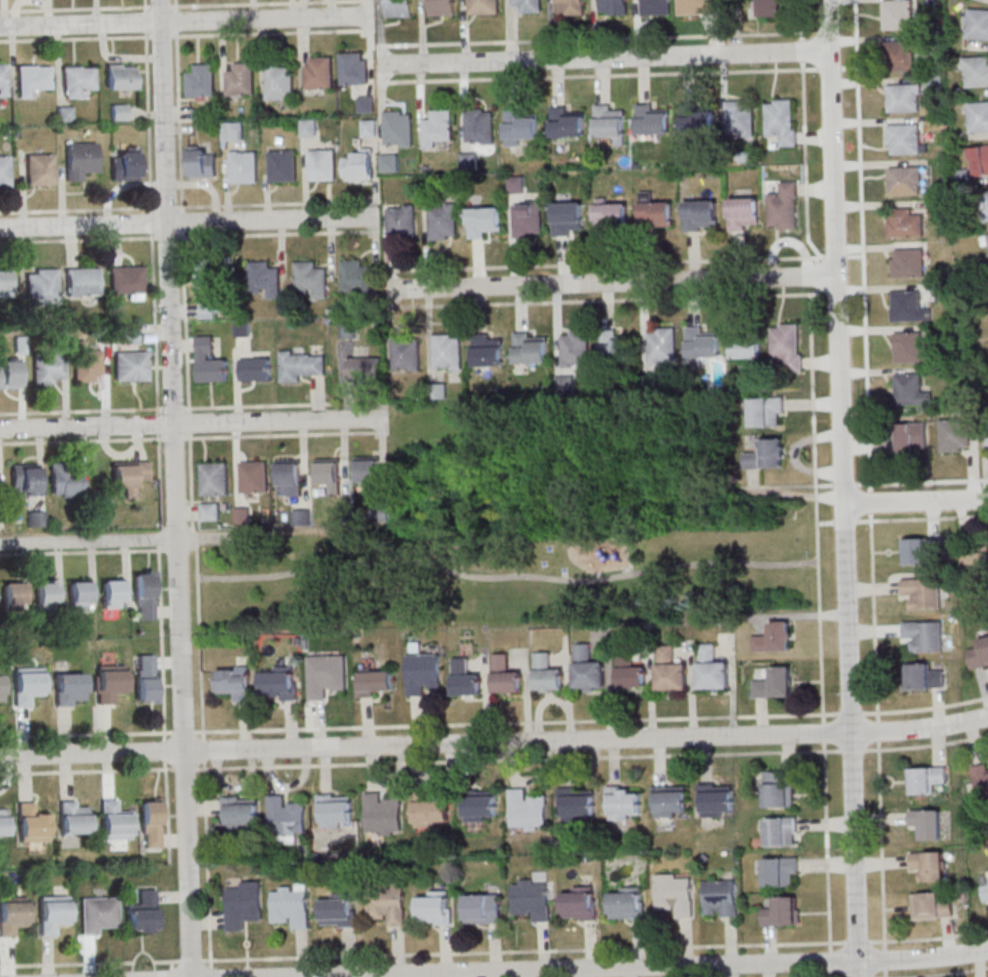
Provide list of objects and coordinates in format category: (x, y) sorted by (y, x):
road: (145, 4)
road: (174, 4)
road: (184, 5)
building: (528, 6)
building: (613, 6)
building: (441, 7)
building: (483, 7)
building: (570, 7)
building: (654, 7)
building: (696, 7)
building: (398, 8)
building: (766, 8)
building: (897, 14)
road: (186, 20)
building: (977, 24)
road: (847, 29)
road: (829, 30)
road: (184, 35)
road: (599, 38)
building: (898, 56)
road: (603, 57)
road: (848, 67)
road: (827, 68)
building: (353, 69)
building: (975, 71)
building: (319, 73)
road: (598, 75)
building: (120, 76)
building: (31, 79)
building: (240, 79)
building: (2, 81)
building: (76, 81)
building: (201, 81)
building: (279, 81)
building: (902, 97)
building: (366, 104)
road: (149, 111)
building: (118, 113)
building: (63, 114)
building: (978, 116)
building: (695, 118)
building: (739, 118)
building: (649, 120)
building: (782, 120)
building: (608, 122)
building: (565, 123)
building: (479, 126)
building: (437, 127)
building: (519, 127)
building: (308, 128)
building: (368, 128)
building: (398, 128)
building: (235, 131)
building: (903, 139)
building: (980, 159)
building: (79, 160)
building: (468, 161)
building: (201, 162)
building: (387, 162)
building: (322, 165)
building: (282, 166)
building: (360, 166)
building: (123, 167)
building: (243, 167)
building: (38, 170)
building: (4, 172)
building: (904, 180)
building: (514, 184)
building: (984, 204)
road: (189, 206)
building: (783, 206)
road: (181, 209)
building: (655, 211)
building: (744, 213)
building: (701, 215)
building: (611, 216)
building: (568, 218)
building: (401, 219)
building: (527, 219)
road: (189, 221)
building: (442, 221)
building: (484, 221)
building: (904, 223)
road: (189, 236)
building: (986, 241)
road: (835, 256)
road: (855, 256)
road: (602, 262)
building: (907, 263)
building: (206, 277)
building: (357, 278)
building: (264, 279)
building: (310, 279)
building: (125, 281)
building: (81, 282)
building: (5, 283)
road: (611, 283)
building: (42, 286)
road: (592, 300)
building: (907, 307)
building: (242, 329)
road: (155, 333)
building: (129, 335)
building: (744, 343)
building: (701, 345)
building: (662, 346)
building: (614, 347)
building: (785, 347)
building: (909, 348)
building: (529, 349)
building: (574, 349)
building: (488, 350)
building: (405, 353)
building: (446, 353)
building: (210, 361)
building: (301, 364)
building: (85, 365)
building: (47, 366)
building: (130, 367)
building: (363, 368)
building: (255, 369)
building: (9, 375)
building: (910, 390)
road: (260, 406)
road: (94, 411)
building: (766, 411)
road: (192, 422)
road: (287, 435)
building: (954, 435)
building: (912, 437)
building: (987, 439)
road: (94, 440)
building: (766, 454)
building: (368, 472)
building: (329, 475)
building: (129, 476)
building: (253, 478)
building: (289, 478)
building: (25, 479)
building: (65, 480)
building: (214, 480)
road: (921, 481)
road: (160, 482)
road: (843, 484)
road: (784, 485)
road: (175, 488)
road: (815, 488)
road: (842, 488)
road: (870, 488)
road: (915, 502)
building: (210, 511)
building: (382, 512)
building: (243, 515)
building: (301, 517)
road: (921, 518)
building: (36, 519)
road: (843, 521)
road: (824, 522)
park: (528, 529)
road: (89, 541)
building: (918, 551)
building: (976, 558)
road: (159, 561)
road: (507, 579)
building: (47, 592)
building: (923, 592)
building: (113, 593)
building: (80, 594)
building: (144, 595)
building: (13, 596)
building: (924, 635)
building: (774, 638)
building: (980, 654)
building: (587, 669)
building: (711, 670)
building: (670, 671)
building: (629, 672)
building: (422, 673)
building: (546, 674)
building: (325, 675)
building: (925, 675)
building: (504, 676)
building: (145, 679)
building: (465, 680)
building: (235, 681)
building: (375, 682)
building: (109, 683)
building: (280, 683)
building: (775, 683)
building: (26, 685)
building: (68, 689)
building: (0, 690)
road: (200, 692)
road: (415, 720)
road: (317, 723)
road: (512, 723)
road: (82, 734)
road: (494, 742)
road: (457, 761)
road: (371, 769)
road: (131, 770)
building: (981, 777)
building: (926, 779)
building: (779, 788)
building: (668, 801)
building: (715, 801)
building: (576, 804)
building: (621, 804)
building: (477, 805)
building: (335, 810)
building: (430, 811)
building: (527, 811)
building: (240, 812)
building: (382, 814)
building: (286, 817)
building: (73, 819)
building: (113, 822)
building: (2, 823)
building: (151, 823)
building: (926, 823)
building: (31, 824)
building: (781, 831)
building: (929, 865)
building: (780, 871)
building: (985, 890)
building: (675, 893)
road: (172, 896)
building: (720, 897)
building: (531, 899)
building: (627, 902)
building: (386, 903)
building: (579, 903)
building: (242, 905)
building: (931, 906)
building: (289, 908)
building: (338, 910)
building: (483, 910)
building: (435, 911)
building: (782, 911)
building: (142, 913)
building: (52, 914)
building: (98, 914)
building: (12, 915)
road: (494, 951)
road: (89, 956)
road: (650, 967)
road: (173, 969)

